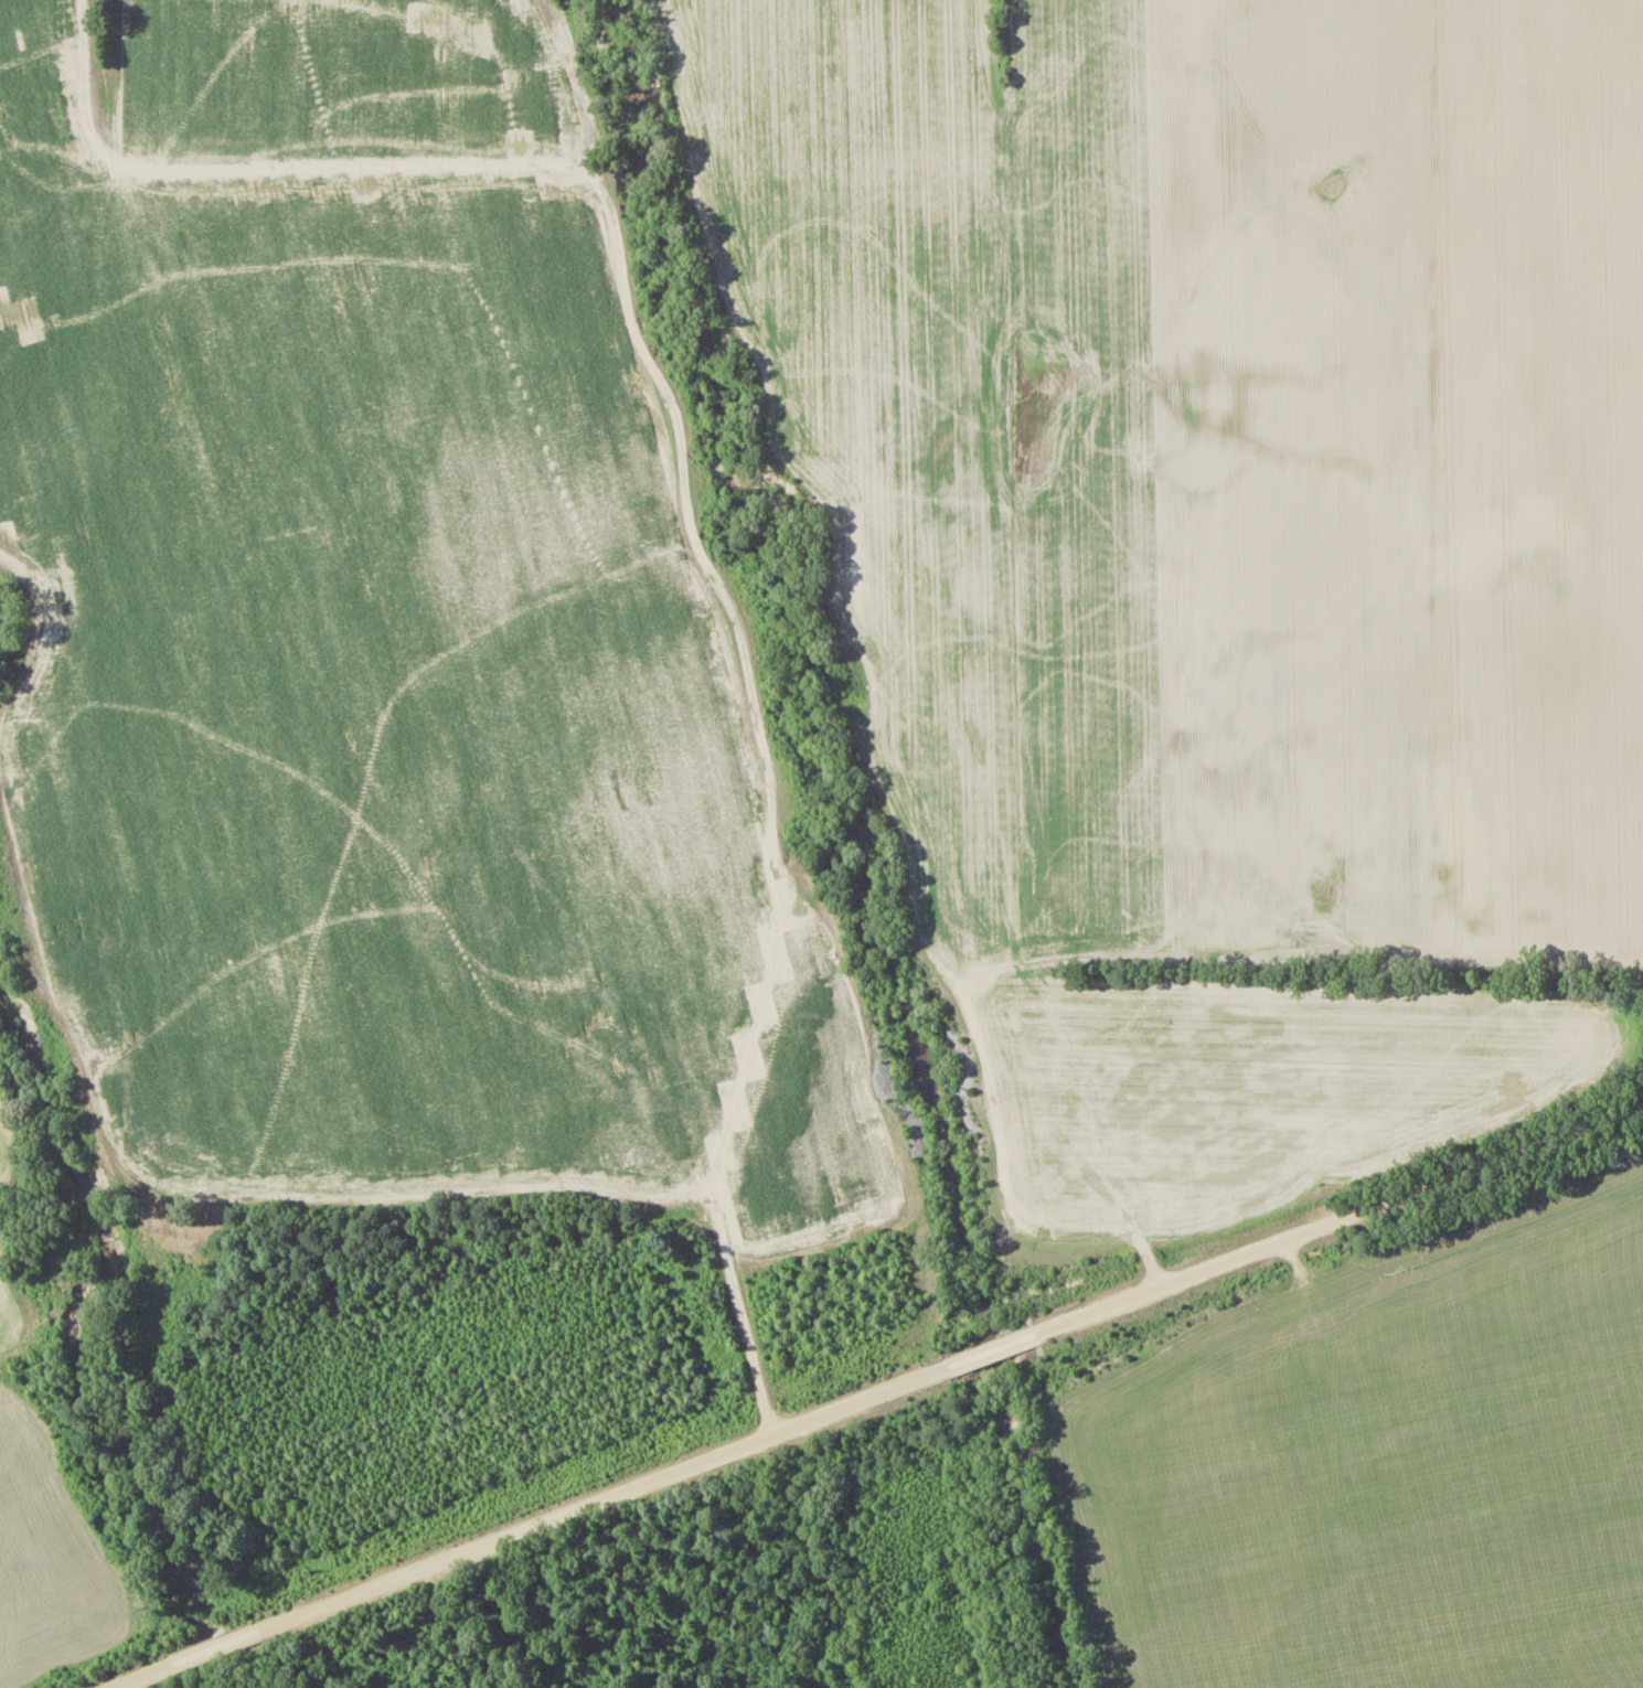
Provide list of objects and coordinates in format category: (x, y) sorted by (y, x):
building: (330, 653)
road: (874, 1393)

